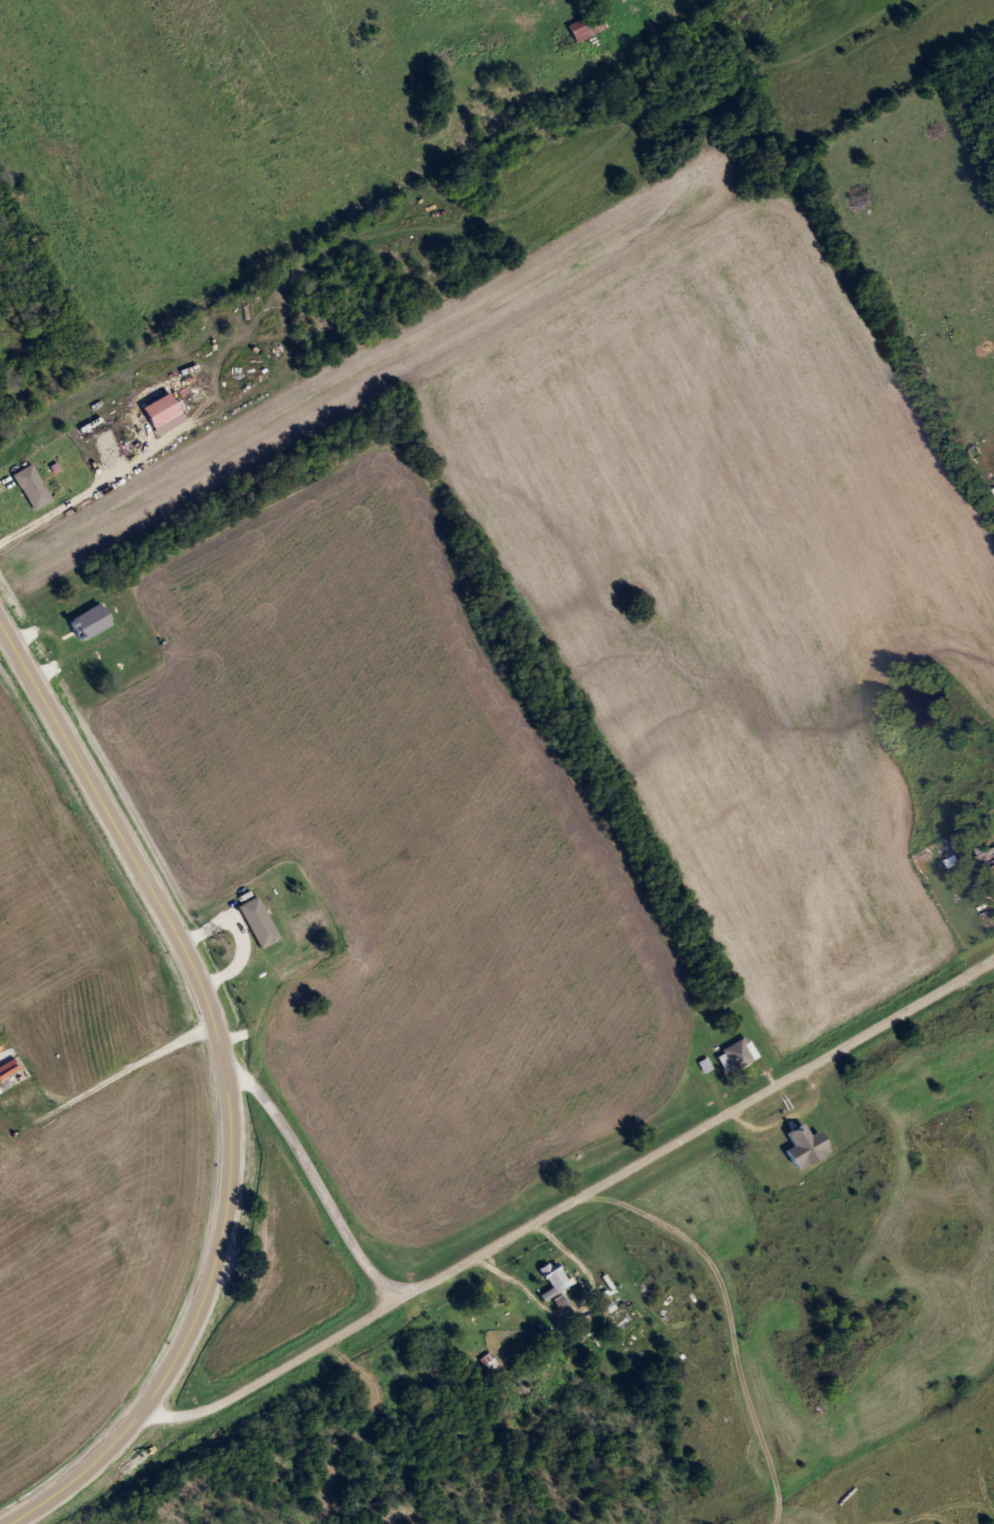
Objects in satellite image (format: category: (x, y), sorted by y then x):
building: (592, 26)
road: (325, 362)
building: (162, 415)
building: (36, 487)
building: (94, 621)
building: (990, 860)
building: (970, 902)
building: (263, 921)
road: (236, 937)
building: (743, 1053)
road: (768, 1064)
building: (706, 1066)
building: (8, 1070)
road: (225, 1080)
building: (811, 1147)
road: (302, 1160)
road: (569, 1201)
building: (558, 1278)
building: (510, 1302)
road: (539, 1303)
building: (561, 1303)
road: (669, 1331)
building: (489, 1364)

